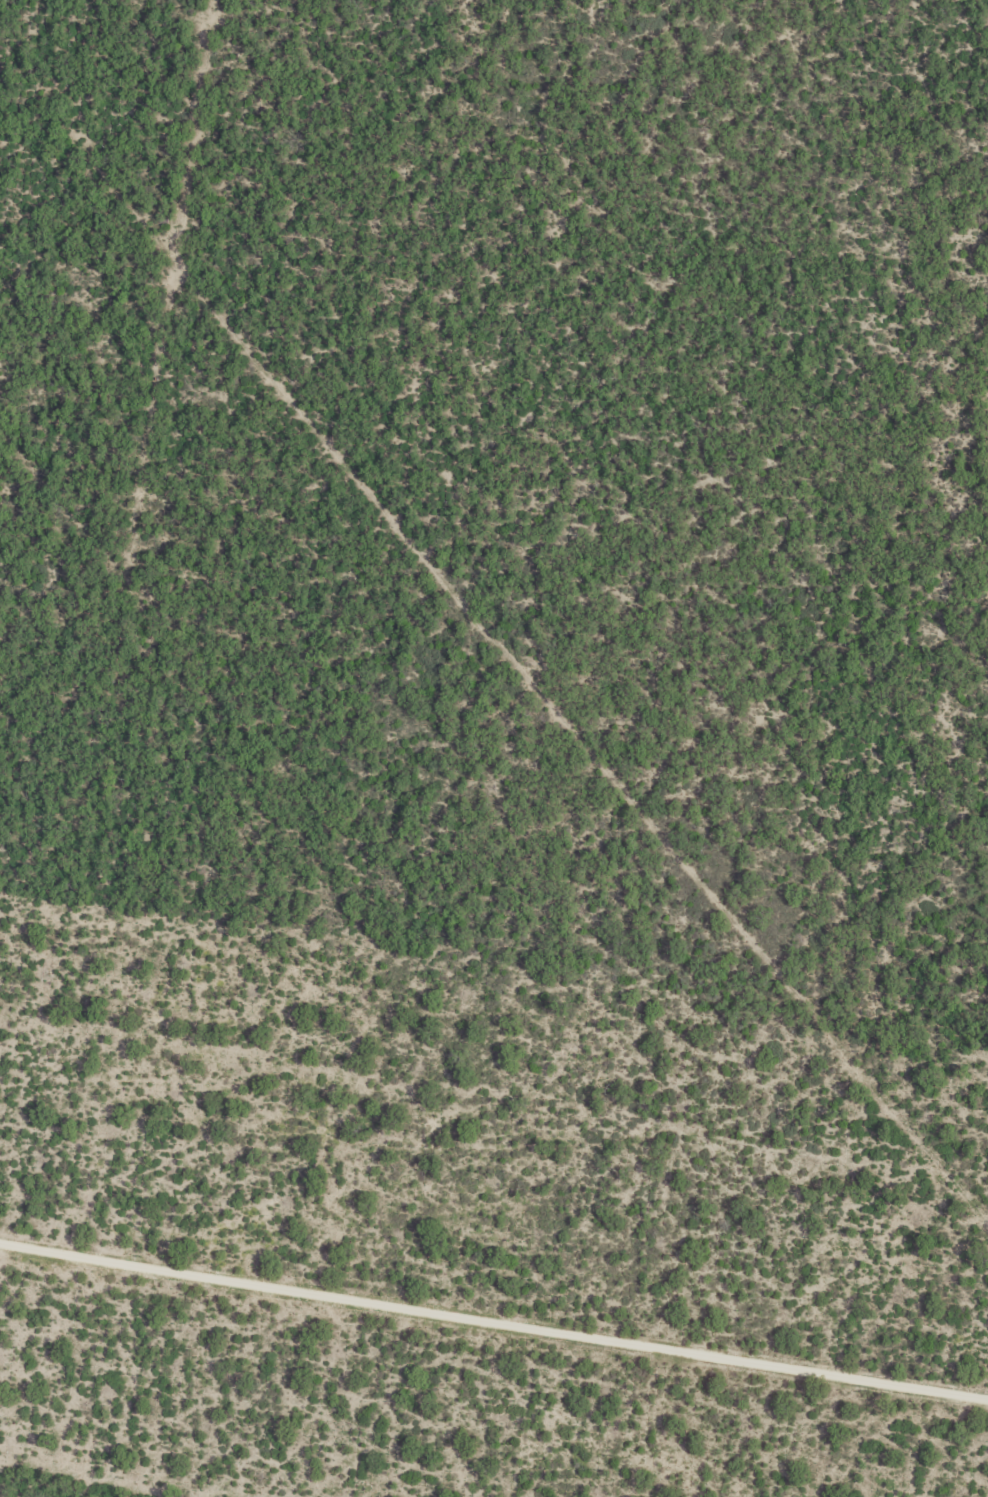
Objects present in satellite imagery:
road: (493, 1322)

